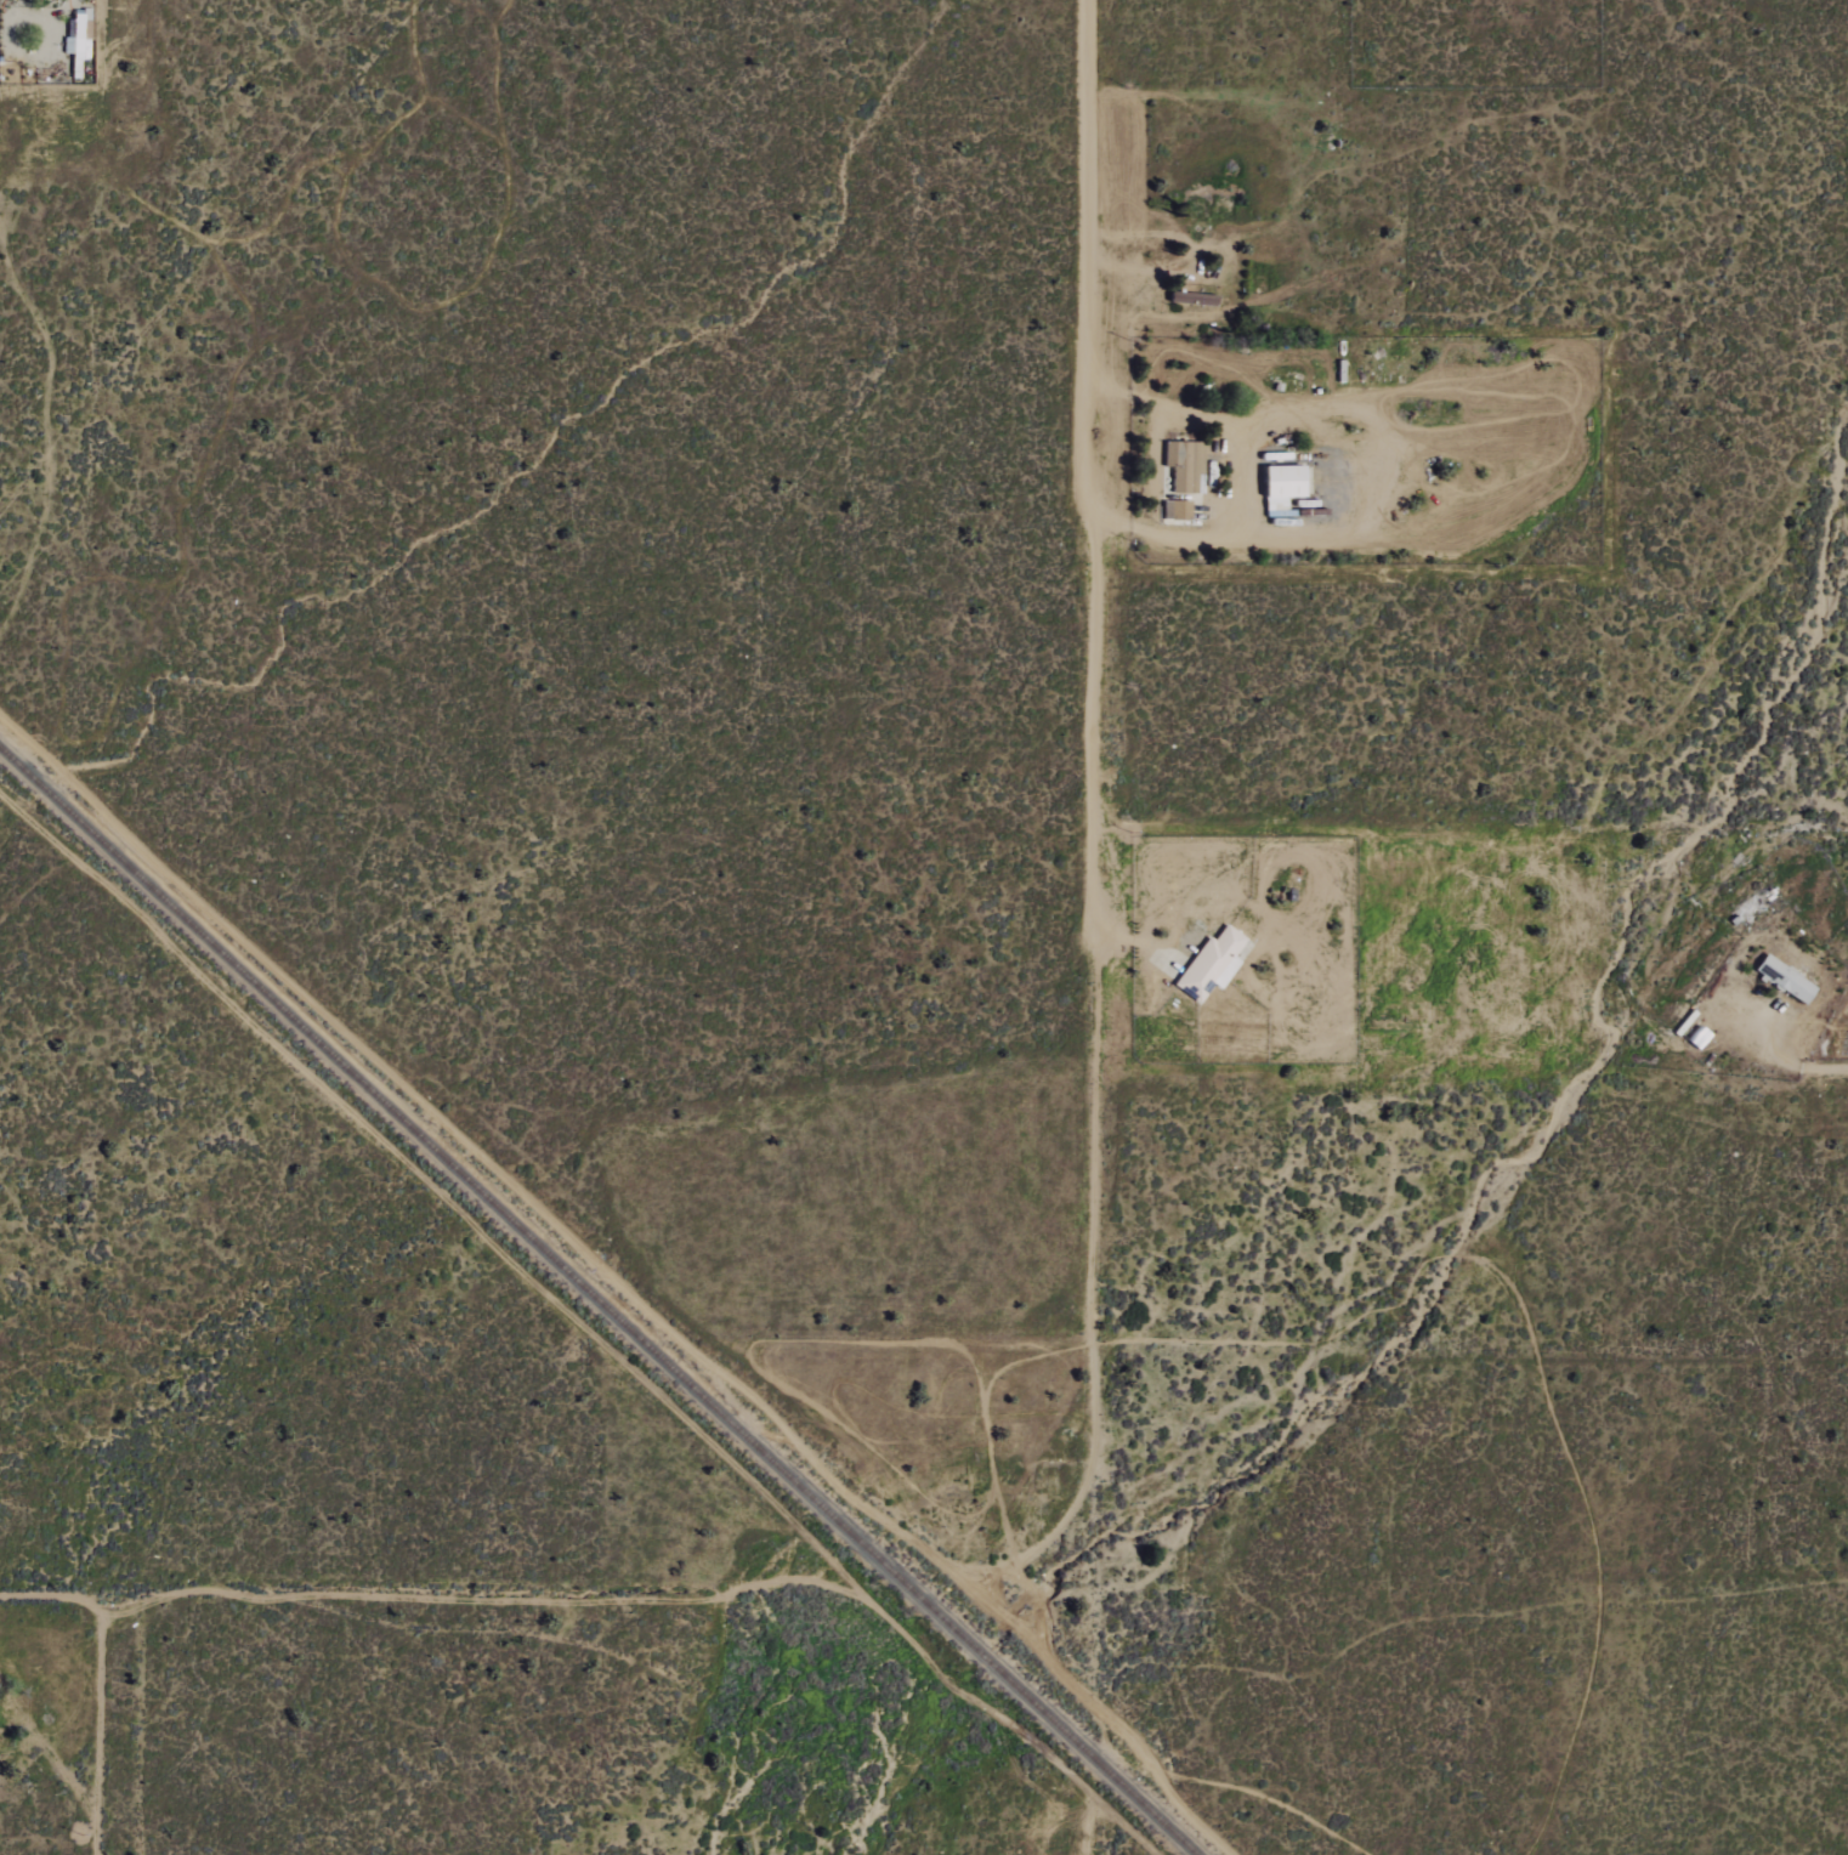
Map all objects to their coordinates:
road: (100, 42)
road: (1291, 202)
road: (1299, 407)
building: (1277, 487)
road: (1473, 580)
road: (1095, 841)
building: (1782, 980)
road: (1797, 1061)
railway: (596, 1301)
road: (402, 1596)
road: (90, 1719)
building: (5, 1721)
road: (40, 1741)
road: (1090, 1842)

